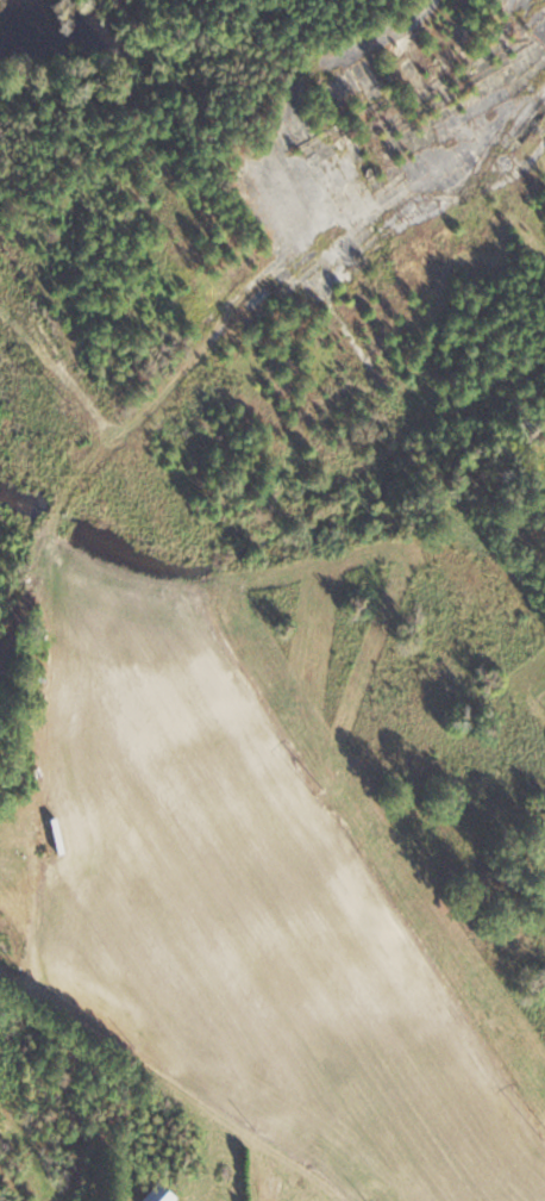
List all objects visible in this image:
road: (438, 1)
road: (464, 181)
power tower: (61, 403)
power tower: (319, 792)
building: (158, 1194)

